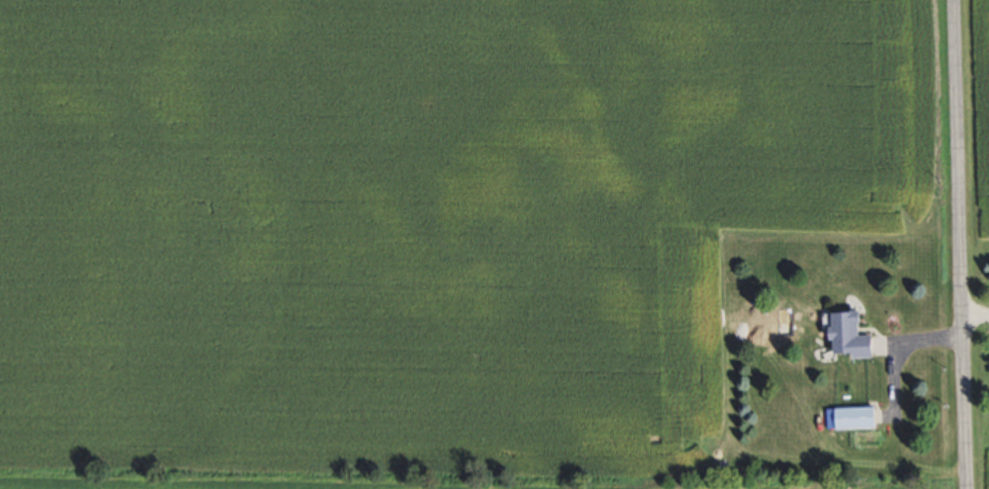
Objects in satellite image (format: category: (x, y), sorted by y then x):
road: (958, 244)
building: (854, 334)
road: (897, 345)
building: (859, 417)

